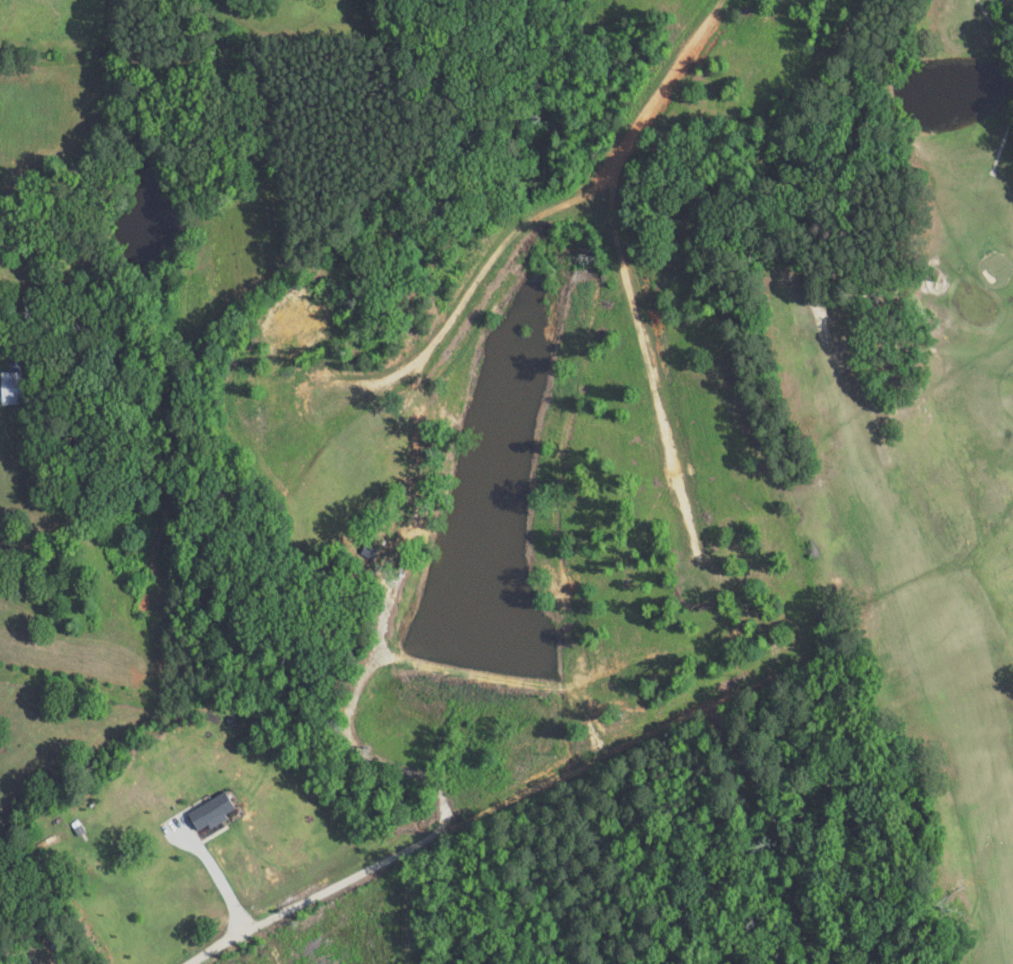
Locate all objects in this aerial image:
road: (667, 94)
road: (472, 300)
road: (652, 382)
building: (9, 388)
road: (508, 800)
building: (210, 805)
road: (215, 874)

